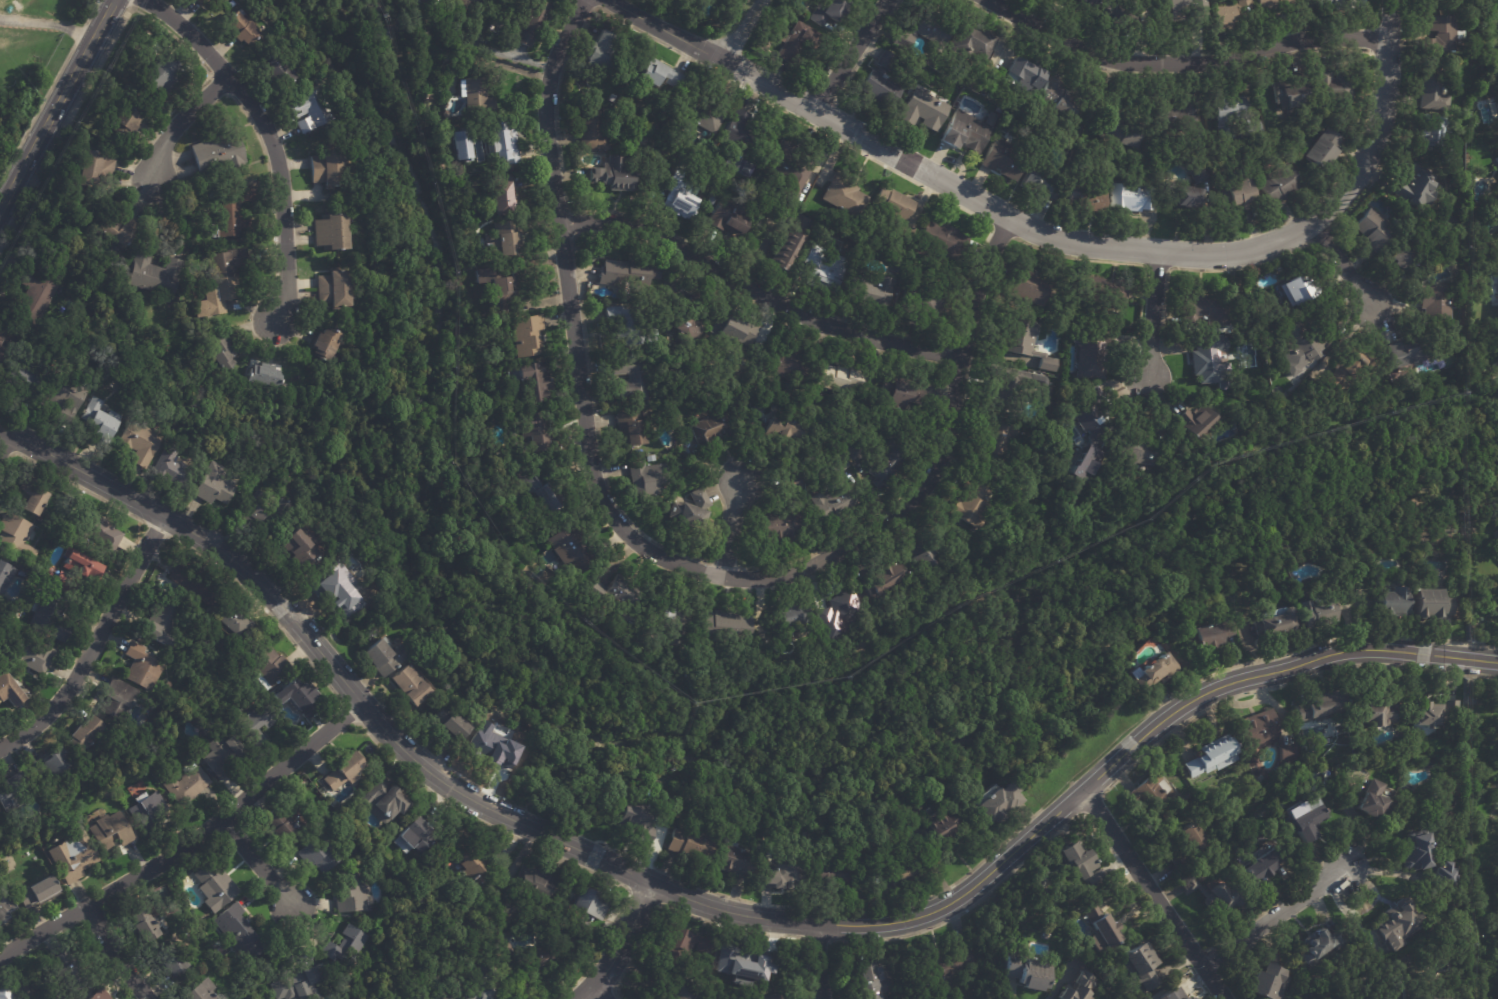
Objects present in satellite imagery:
building: (0, 0)
building: (196, 0)
building: (203, 2)
building: (1087, 2)
building: (420, 3)
building: (470, 4)
building: (1433, 4)
building: (1243, 5)
building: (1273, 5)
building: (1340, 5)
building: (1183, 8)
building: (1126, 11)
building: (826, 12)
building: (1222, 17)
building: (532, 23)
road: (47, 24)
building: (239, 27)
road: (665, 30)
road: (741, 30)
building: (921, 33)
building: (1442, 34)
building: (797, 43)
building: (971, 43)
road: (481, 47)
building: (598, 49)
road: (851, 55)
road: (1188, 59)
building: (276, 73)
building: (659, 74)
building: (161, 75)
building: (1025, 76)
building: (882, 83)
building: (1333, 86)
building: (1294, 91)
building: (1434, 91)
building: (475, 95)
building: (610, 98)
building: (1061, 100)
road: (56, 102)
building: (309, 110)
building: (923, 112)
building: (703, 116)
building: (1181, 117)
building: (1231, 118)
building: (127, 119)
road: (183, 121)
building: (592, 130)
building: (1256, 132)
building: (742, 133)
building: (967, 133)
building: (1124, 133)
building: (1433, 133)
road: (269, 135)
building: (504, 143)
building: (455, 145)
building: (218, 150)
building: (662, 152)
building: (1322, 153)
building: (1448, 156)
building: (1005, 161)
building: (790, 164)
building: (326, 169)
building: (91, 170)
building: (612, 175)
building: (1042, 186)
building: (1281, 186)
building: (1417, 187)
building: (1190, 191)
building: (502, 195)
building: (1241, 195)
building: (845, 196)
building: (1134, 199)
building: (680, 200)
building: (712, 201)
building: (1089, 203)
building: (228, 211)
building: (895, 212)
building: (728, 218)
building: (122, 230)
building: (1375, 230)
building: (331, 232)
building: (944, 239)
building: (501, 240)
building: (788, 246)
road: (1121, 247)
building: (1401, 257)
building: (1430, 261)
road: (1341, 264)
building: (360, 267)
building: (821, 271)
building: (625, 274)
building: (154, 276)
building: (219, 279)
building: (1301, 286)
building: (1031, 287)
building: (332, 289)
road: (758, 290)
building: (871, 291)
building: (503, 292)
building: (1109, 292)
building: (31, 296)
building: (921, 297)
building: (1435, 303)
building: (1206, 309)
road: (1153, 313)
building: (633, 324)
building: (686, 329)
building: (735, 331)
building: (526, 336)
building: (1027, 342)
building: (1301, 345)
building: (325, 346)
building: (1094, 350)
building: (219, 351)
building: (1, 352)
building: (1407, 353)
building: (1207, 362)
building: (784, 365)
building: (1349, 369)
building: (263, 375)
building: (631, 378)
building: (841, 378)
building: (531, 380)
building: (21, 381)
building: (1013, 386)
building: (902, 392)
building: (66, 398)
building: (1093, 413)
building: (1199, 421)
building: (102, 424)
building: (630, 428)
building: (708, 430)
building: (780, 433)
building: (537, 434)
road: (5, 441)
building: (998, 441)
building: (138, 443)
building: (1139, 448)
building: (881, 461)
building: (1086, 463)
building: (168, 465)
building: (647, 480)
building: (213, 488)
building: (540, 490)
building: (31, 495)
building: (835, 496)
building: (971, 505)
building: (690, 510)
building: (256, 511)
building: (786, 514)
road: (732, 527)
building: (97, 531)
building: (1496, 532)
building: (16, 537)
building: (302, 544)
building: (1497, 546)
building: (570, 552)
road: (653, 552)
building: (932, 553)
building: (77, 562)
building: (3, 577)
building: (886, 580)
building: (192, 585)
building: (333, 590)
building: (623, 601)
building: (1394, 604)
building: (0, 606)
building: (1432, 606)
building: (844, 612)
building: (1316, 614)
building: (50, 616)
building: (791, 619)
building: (160, 620)
building: (231, 621)
building: (1276, 624)
building: (675, 629)
building: (726, 629)
building: (1210, 637)
road: (96, 644)
building: (29, 655)
building: (384, 659)
building: (142, 661)
building: (270, 666)
building: (1154, 674)
building: (409, 686)
building: (7, 691)
building: (301, 698)
building: (118, 701)
building: (1323, 705)
building: (1379, 712)
building: (1437, 712)
building: (254, 722)
building: (448, 725)
building: (83, 732)
building: (1264, 736)
building: (483, 753)
building: (221, 756)
building: (1213, 757)
building: (53, 762)
building: (342, 771)
building: (184, 784)
building: (4, 794)
building: (1152, 796)
building: (380, 801)
building: (1377, 802)
building: (1000, 804)
building: (145, 812)
building: (1309, 817)
building: (280, 826)
building: (635, 826)
building: (422, 829)
building: (944, 831)
building: (104, 834)
building: (1192, 837)
road: (189, 843)
building: (692, 846)
building: (1420, 850)
building: (318, 853)
building: (69, 858)
building: (1078, 860)
road: (258, 862)
building: (736, 862)
building: (1263, 866)
building: (474, 868)
building: (906, 875)
building: (1446, 875)
building: (775, 876)
building: (836, 879)
building: (1190, 883)
building: (536, 885)
building: (213, 886)
building: (37, 890)
building: (351, 892)
road: (1155, 894)
building: (1222, 897)
building: (587, 906)
road: (713, 906)
building: (5, 907)
road: (1275, 917)
building: (138, 923)
building: (1396, 923)
building: (1103, 929)
building: (238, 931)
building: (500, 945)
road: (621, 945)
building: (1318, 945)
building: (345, 946)
building: (678, 947)
road: (116, 953)
building: (543, 960)
building: (756, 961)
road: (816, 961)
building: (170, 964)
building: (943, 965)
building: (1141, 967)
building: (67, 971)
building: (1027, 974)
building: (869, 982)
building: (1270, 983)
building: (291, 988)
building: (1079, 988)
building: (476, 990)
building: (676, 990)
building: (202, 991)
road: (601, 991)
building: (4, 993)
building: (99, 994)
building: (1172, 994)
building: (442, 995)
building: (771, 995)
building: (1434, 997)
building: (258, 998)
building: (1189, 998)

